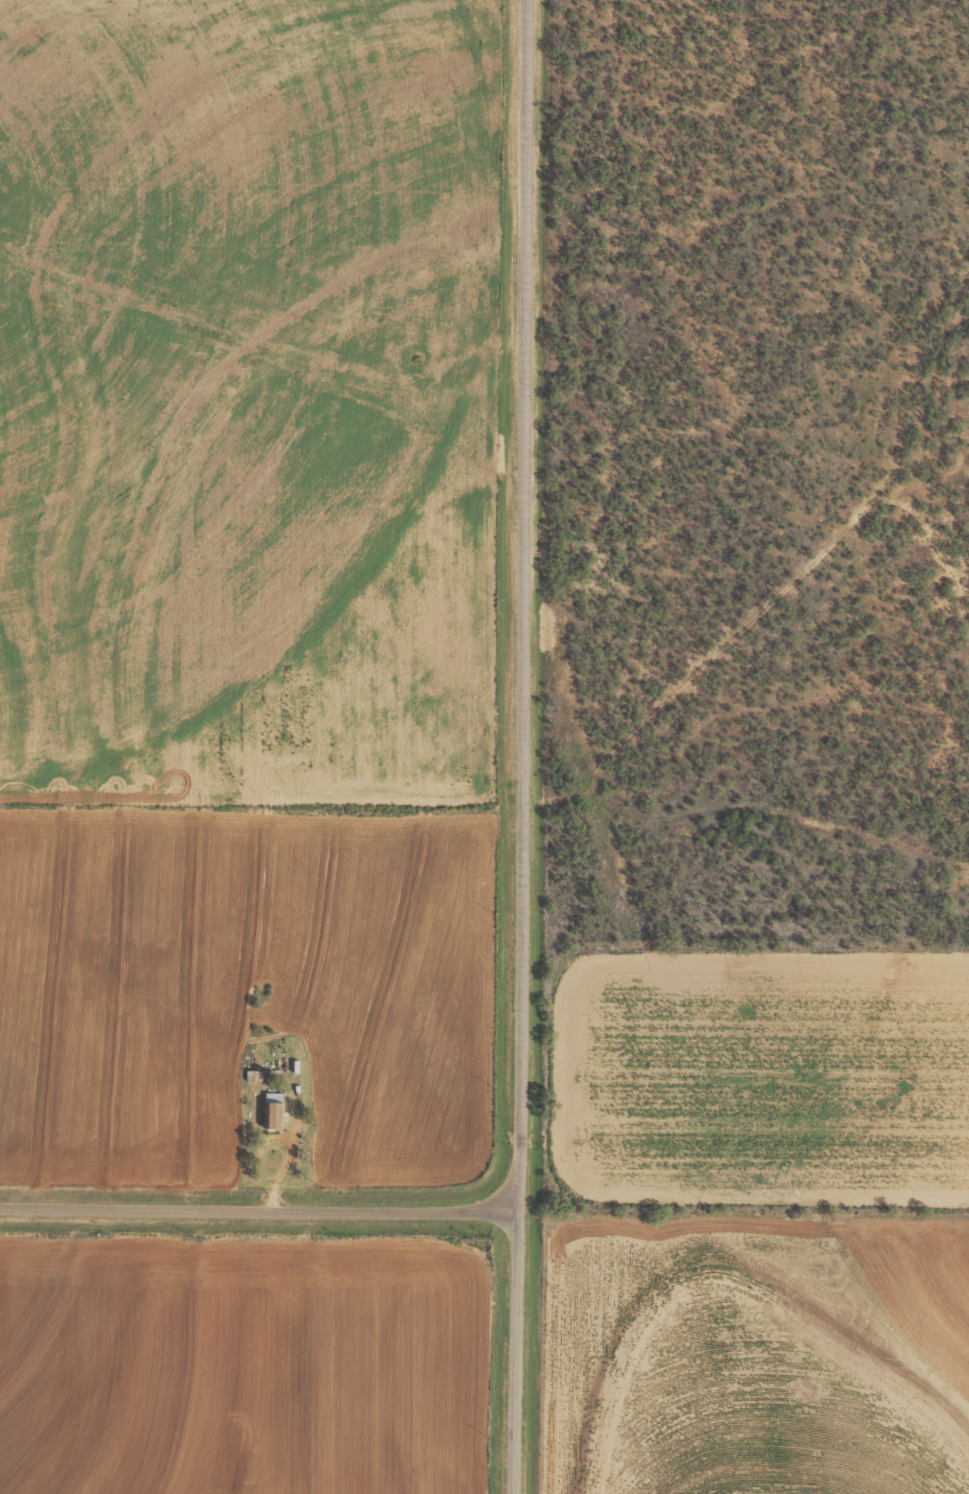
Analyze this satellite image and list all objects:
road: (529, 747)
road: (262, 1206)

